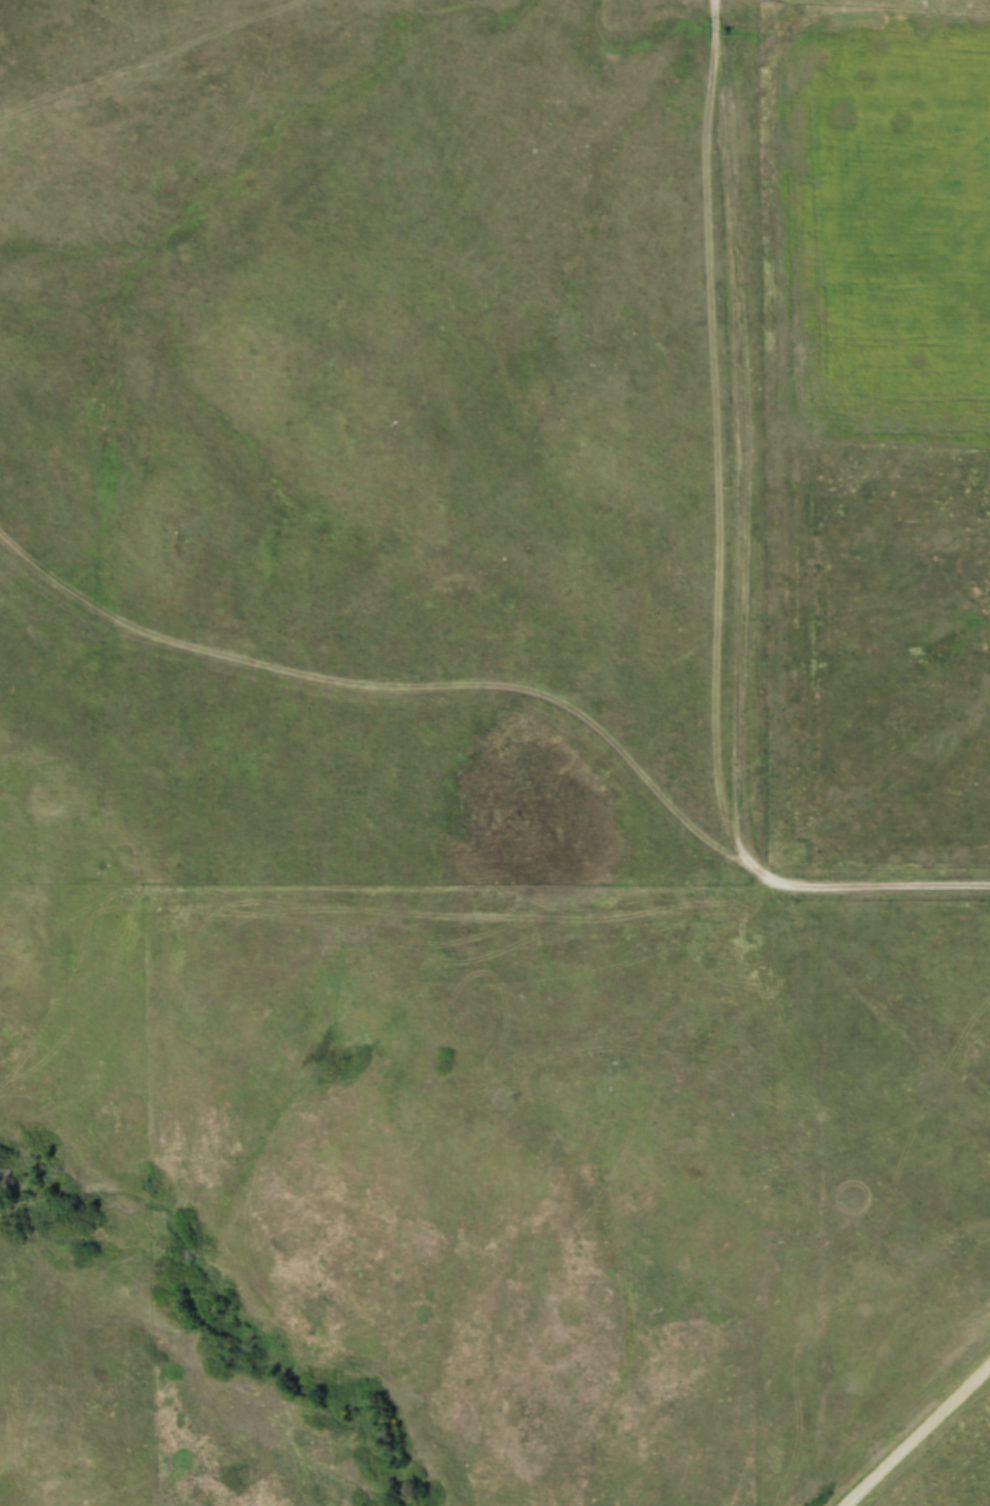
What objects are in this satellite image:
road: (740, 559)
road: (919, 1439)

